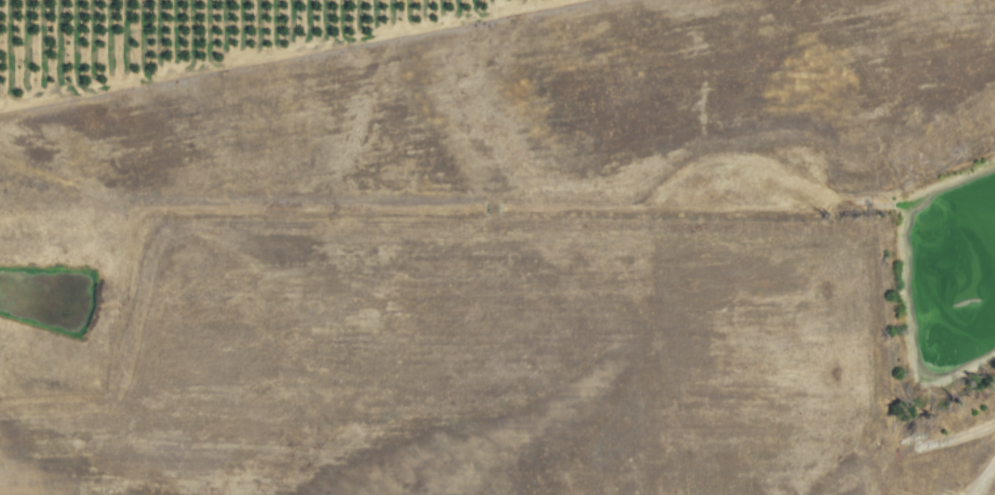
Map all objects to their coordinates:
road: (987, 463)

